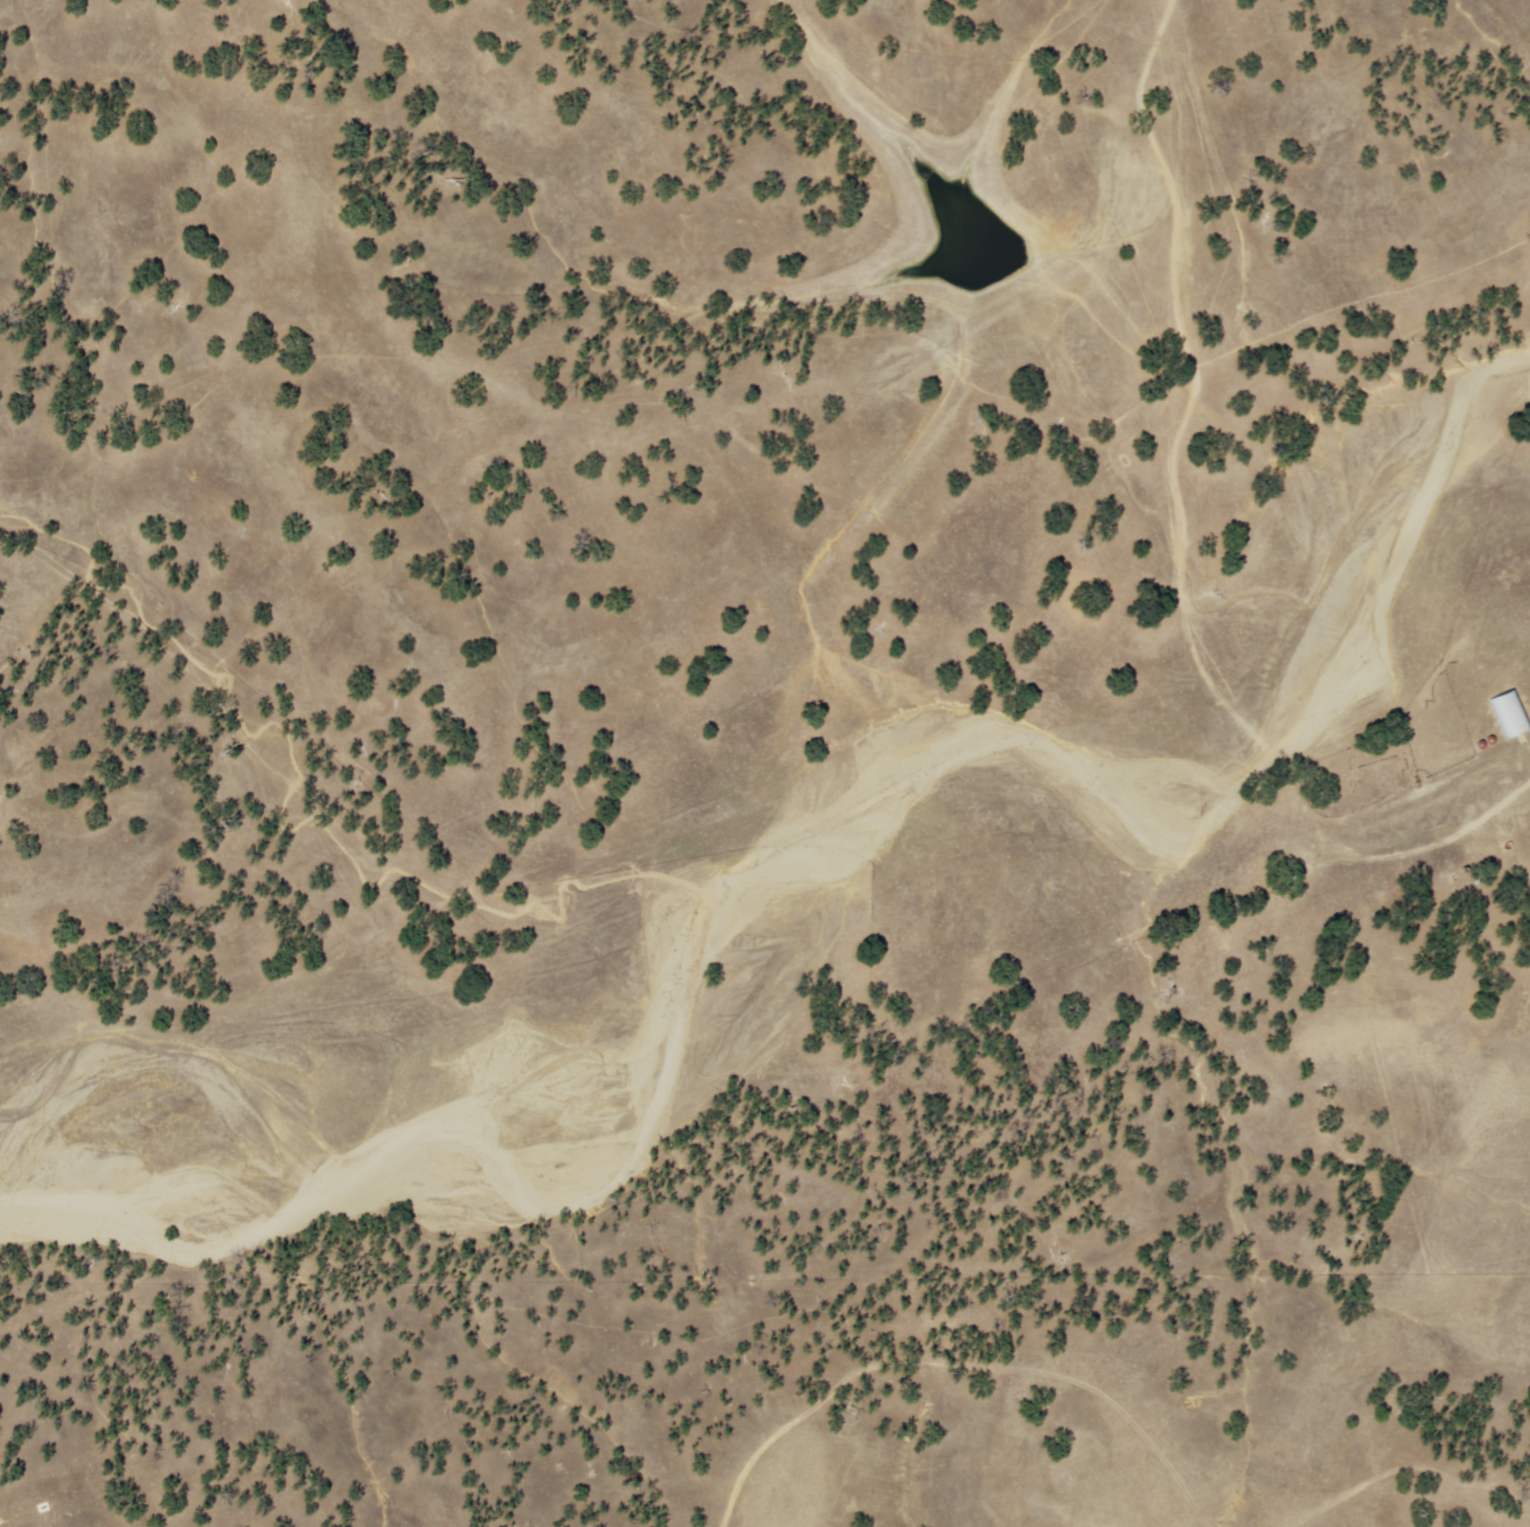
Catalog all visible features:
road: (1180, 546)
river: (828, 843)

